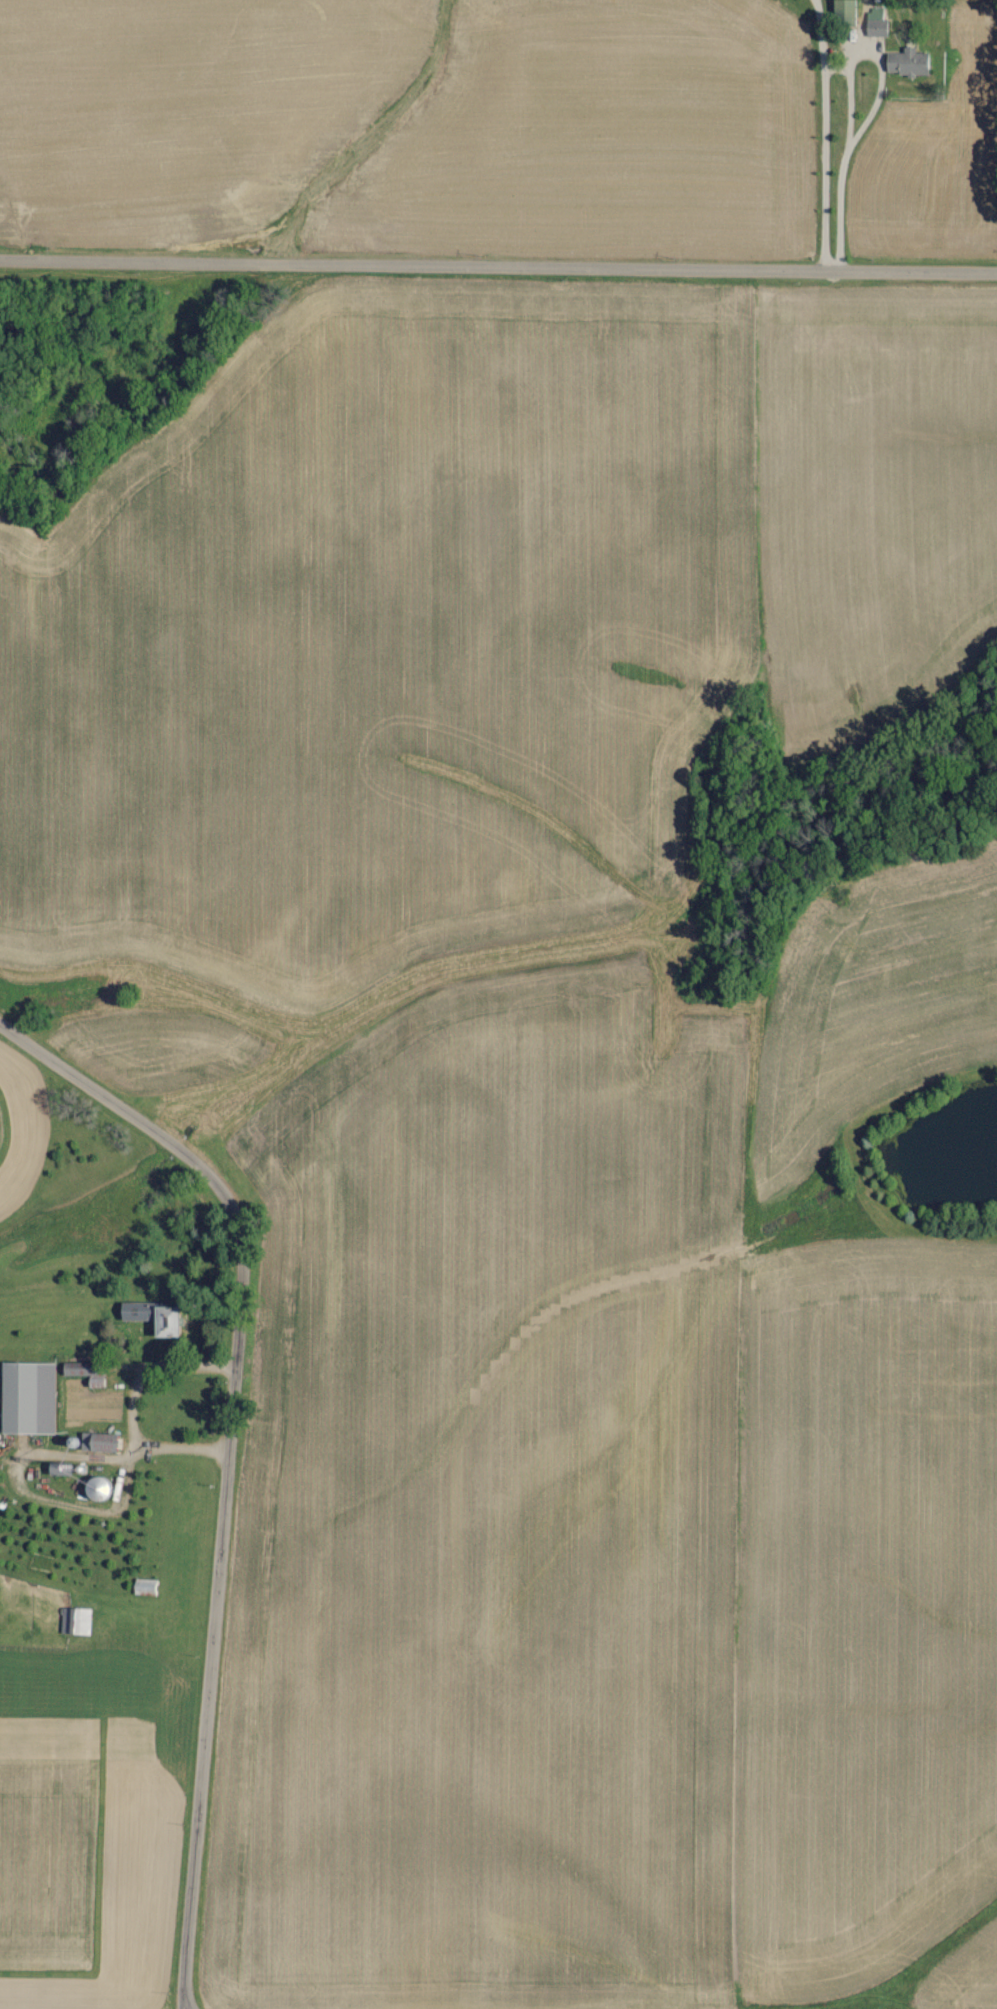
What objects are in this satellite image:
building: (844, 12)
building: (876, 23)
building: (906, 62)
road: (826, 139)
road: (498, 271)
road: (131, 1116)
building: (153, 1316)
building: (27, 1397)
building: (98, 1442)
building: (96, 1488)
road: (216, 1618)
building: (75, 1621)

